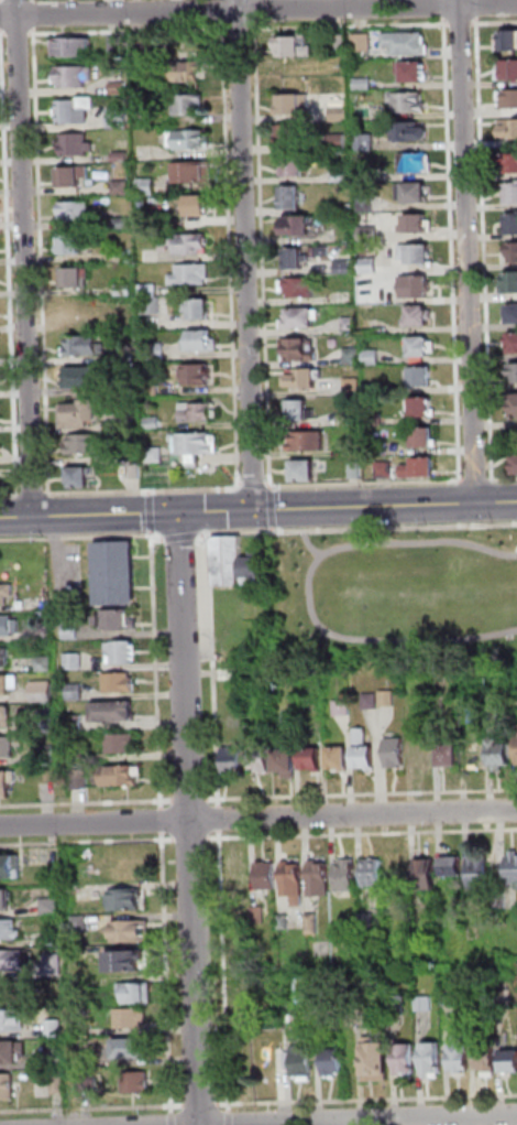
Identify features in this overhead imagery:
road: (34, 0)
road: (1, 1)
road: (446, 2)
road: (255, 4)
road: (257, 9)
road: (477, 9)
road: (222, 11)
road: (1, 14)
road: (34, 14)
road: (494, 22)
road: (466, 23)
road: (233, 26)
road: (129, 30)
road: (18, 33)
road: (3, 34)
building: (508, 40)
building: (406, 41)
building: (339, 42)
building: (361, 42)
building: (294, 44)
building: (73, 46)
building: (116, 46)
building: (143, 48)
building: (413, 68)
building: (184, 69)
building: (507, 71)
building: (74, 77)
building: (363, 83)
building: (118, 88)
building: (509, 98)
building: (291, 100)
building: (408, 100)
building: (188, 104)
building: (74, 111)
building: (341, 113)
building: (118, 118)
building: (408, 129)
building: (509, 129)
building: (289, 132)
building: (187, 140)
building: (338, 141)
building: (365, 141)
building: (77, 145)
building: (120, 158)
building: (416, 161)
building: (296, 162)
building: (512, 163)
building: (194, 172)
building: (73, 176)
building: (340, 176)
building: (146, 187)
building: (121, 188)
building: (414, 190)
building: (512, 193)
building: (290, 196)
building: (366, 204)
building: (196, 205)
building: (76, 210)
building: (299, 221)
building: (418, 221)
building: (513, 223)
building: (122, 224)
building: (369, 232)
building: (69, 242)
building: (185, 244)
road: (484, 248)
building: (323, 250)
building: (417, 250)
road: (469, 250)
building: (513, 252)
road: (231, 255)
road: (246, 255)
building: (296, 256)
road: (25, 258)
road: (41, 260)
road: (7, 261)
building: (343, 264)
building: (369, 264)
building: (190, 274)
building: (74, 277)
building: (510, 283)
building: (416, 284)
building: (298, 285)
building: (124, 290)
building: (147, 290)
building: (152, 306)
building: (198, 309)
building: (73, 312)
building: (513, 314)
building: (418, 315)
building: (300, 316)
building: (350, 325)
building: (200, 340)
building: (514, 342)
building: (85, 346)
building: (420, 347)
building: (297, 349)
building: (156, 353)
building: (352, 355)
building: (127, 357)
building: (371, 357)
building: (514, 372)
building: (421, 374)
building: (197, 375)
building: (305, 376)
building: (82, 377)
building: (128, 386)
building: (352, 386)
building: (151, 389)
building: (374, 389)
building: (421, 404)
building: (515, 404)
building: (301, 409)
building: (197, 412)
building: (78, 413)
building: (350, 417)
building: (374, 417)
building: (153, 423)
building: (424, 435)
building: (307, 440)
building: (89, 444)
building: (198, 444)
building: (375, 448)
building: (353, 450)
building: (156, 455)
building: (515, 463)
building: (420, 466)
building: (307, 468)
building: (384, 468)
building: (355, 470)
building: (135, 472)
building: (80, 476)
road: (503, 478)
road: (483, 480)
road: (248, 487)
road: (142, 491)
road: (150, 493)
road: (33, 495)
road: (11, 496)
road: (258, 509)
traffic signals: (255, 510)
traffic signals: (179, 512)
road: (151, 513)
road: (226, 532)
street lamp: (156, 533)
street lamp: (42, 536)
road: (76, 538)
road: (180, 540)
road: (202, 540)
road: (158, 541)
building: (116, 558)
building: (228, 559)
building: (252, 567)
building: (117, 589)
building: (5, 594)
park: (391, 595)
building: (118, 621)
building: (8, 626)
building: (70, 631)
building: (40, 634)
building: (122, 652)
building: (3, 657)
building: (74, 662)
building: (44, 664)
road: (156, 671)
building: (226, 674)
building: (119, 682)
building: (8, 683)
building: (42, 691)
building: (75, 692)
building: (388, 699)
building: (410, 700)
building: (370, 701)
building: (491, 702)
building: (342, 707)
building: (114, 711)
building: (5, 716)
building: (76, 724)
building: (46, 725)
building: (122, 744)
building: (7, 747)
building: (516, 748)
building: (364, 749)
building: (421, 751)
building: (395, 753)
building: (501, 753)
building: (46, 754)
building: (450, 755)
building: (260, 756)
building: (78, 757)
building: (339, 757)
building: (312, 758)
building: (233, 760)
building: (286, 760)
building: (122, 776)
building: (80, 779)
building: (7, 782)
road: (361, 793)
road: (189, 800)
road: (87, 804)
road: (218, 814)
road: (257, 818)
road: (189, 819)
road: (163, 821)
road: (183, 841)
road: (87, 843)
building: (450, 863)
building: (396, 865)
building: (424, 865)
building: (9, 866)
building: (510, 867)
building: (476, 869)
building: (371, 872)
building: (342, 873)
building: (235, 874)
building: (263, 874)
building: (290, 875)
building: (317, 876)
building: (4, 899)
building: (127, 900)
building: (50, 906)
building: (256, 913)
building: (282, 919)
building: (365, 920)
building: (310, 922)
building: (10, 930)
building: (131, 931)
building: (319, 945)
building: (237, 959)
building: (12, 961)
building: (127, 961)
building: (54, 964)
road: (166, 975)
building: (136, 992)
building: (448, 995)
building: (502, 996)
building: (395, 1000)
building: (422, 1002)
building: (246, 1003)
building: (131, 1018)
building: (12, 1020)
building: (55, 1029)
building: (130, 1048)
building: (12, 1051)
building: (457, 1051)
building: (507, 1052)
building: (483, 1054)
building: (58, 1056)
building: (404, 1057)
building: (431, 1058)
building: (299, 1059)
building: (87, 1060)
building: (329, 1060)
building: (265, 1061)
building: (373, 1061)
building: (136, 1082)
building: (57, 1083)
building: (89, 1083)
building: (8, 1086)
road: (193, 1106)
road: (92, 1108)
road: (374, 1119)
road: (172, 1121)

